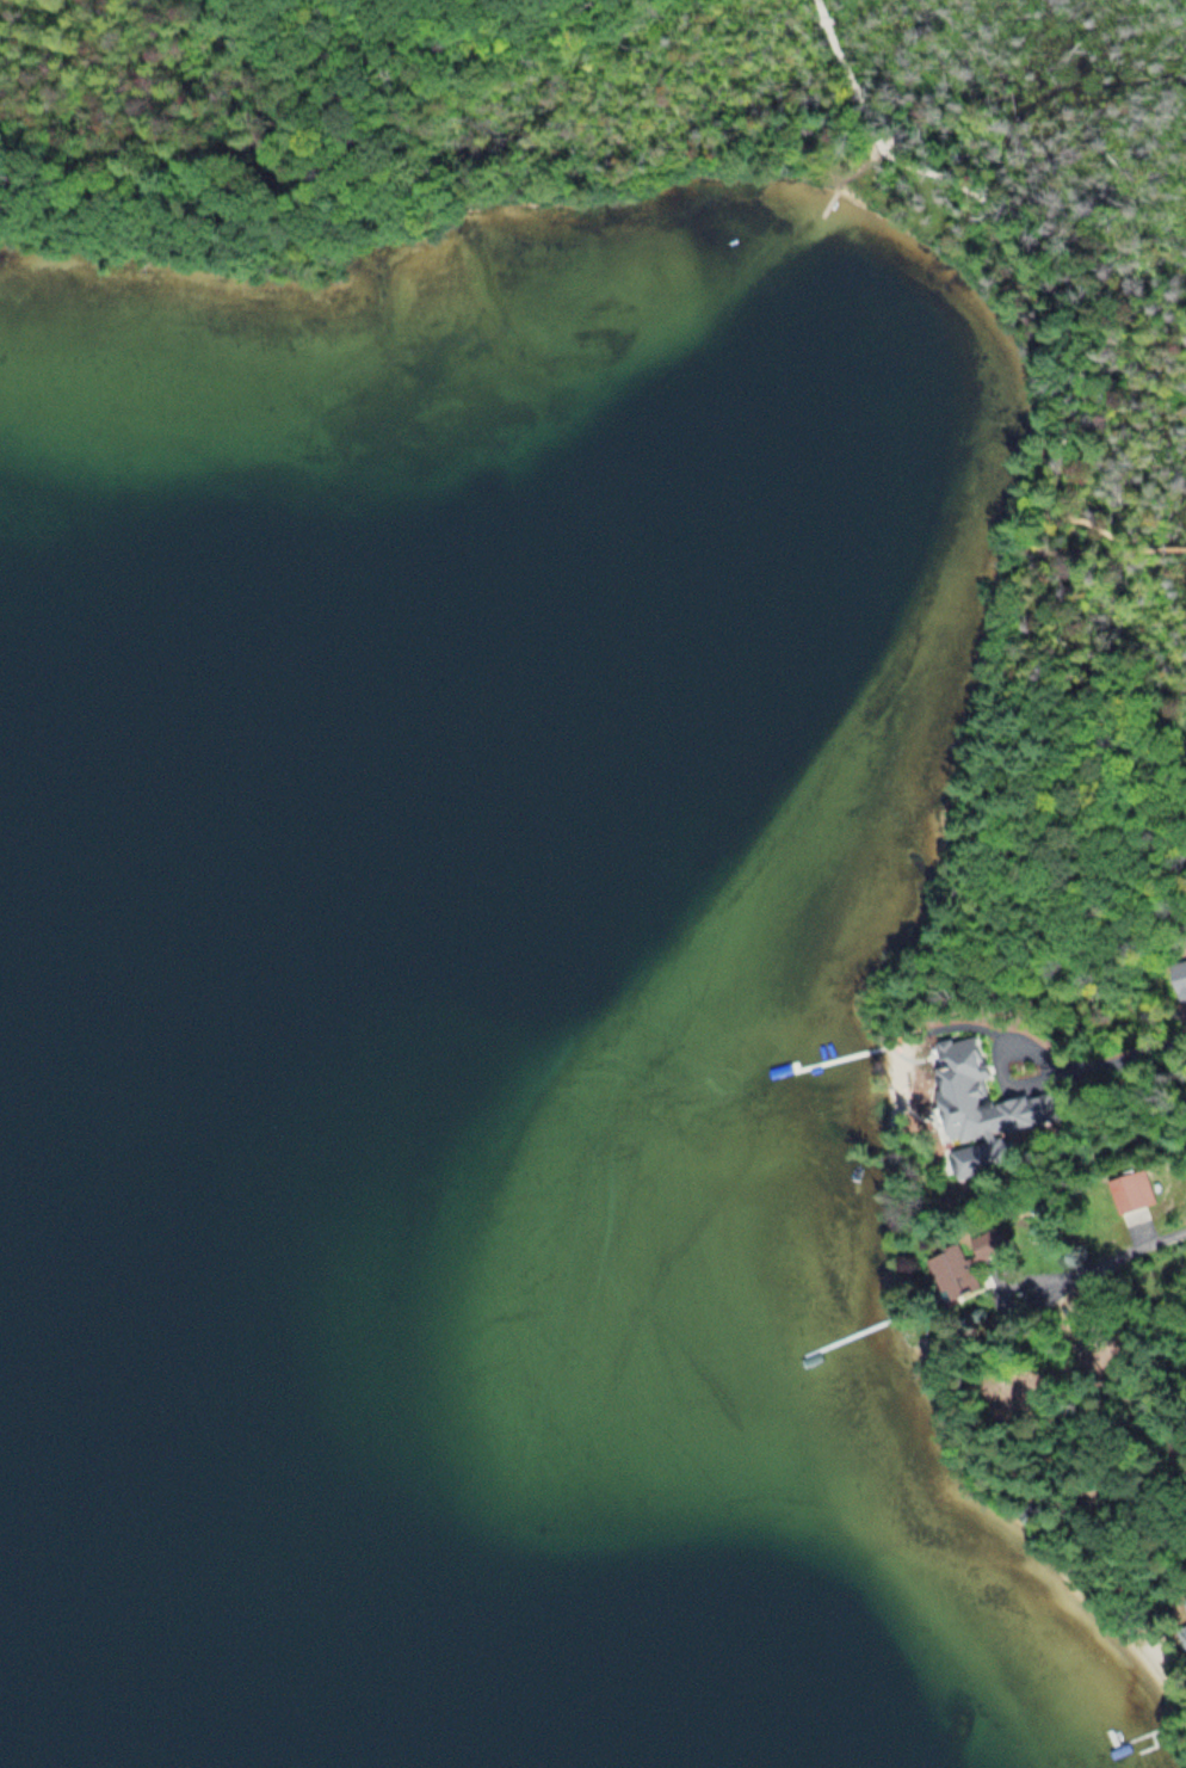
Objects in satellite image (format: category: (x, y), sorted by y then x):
road: (834, 42)
road: (891, 153)
road: (859, 161)
road: (981, 199)
pier: (836, 205)
road: (1100, 516)
pier: (1175, 532)
road: (1018, 608)
building: (963, 1088)
building: (1130, 1189)
road: (1099, 1261)

